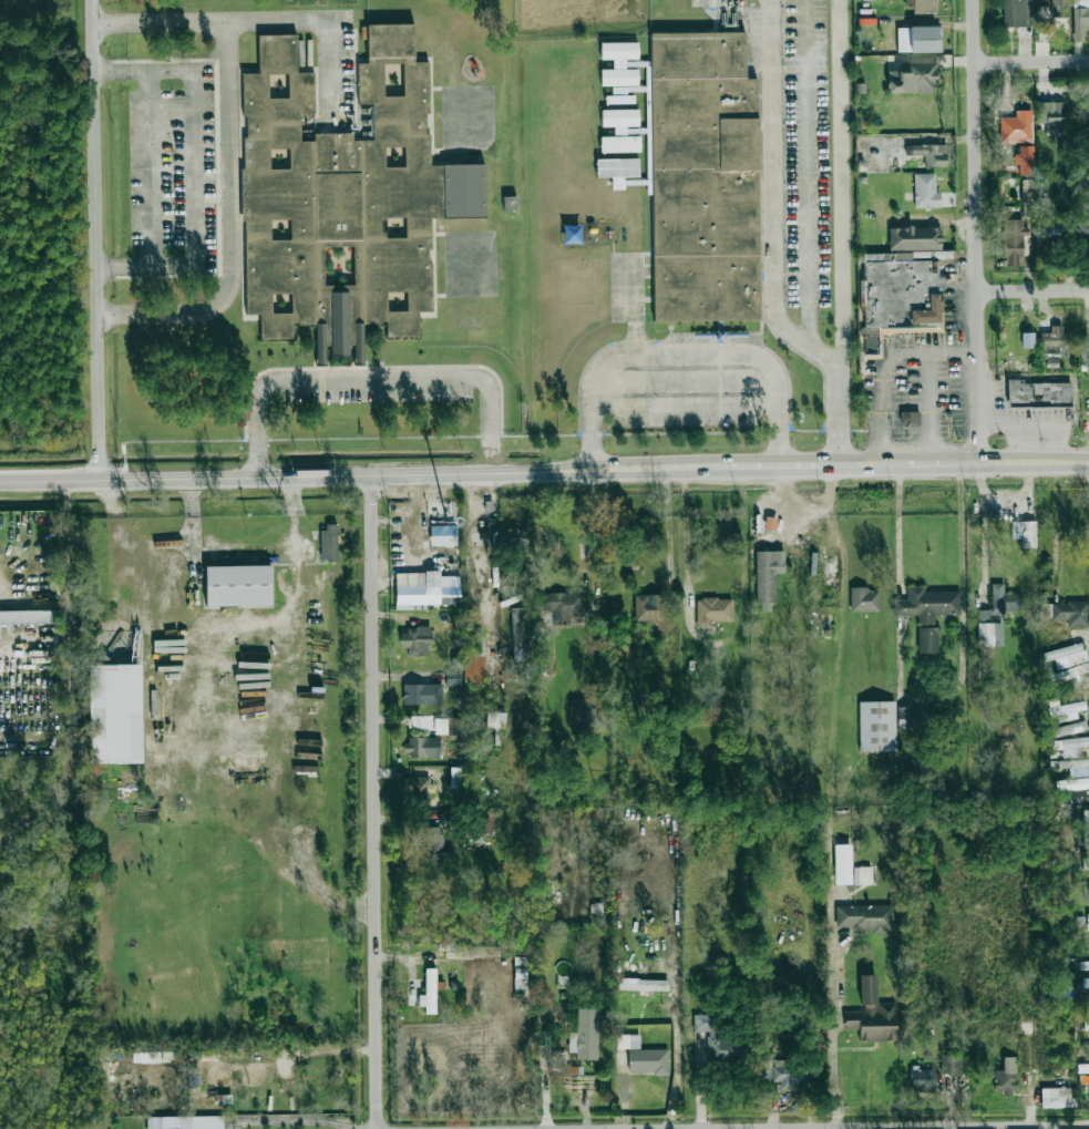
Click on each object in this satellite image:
building: (1041, 2)
building: (922, 6)
building: (1056, 8)
building: (1018, 12)
building: (1080, 18)
road: (321, 22)
road: (163, 23)
building: (918, 39)
road: (1034, 60)
building: (618, 63)
building: (914, 78)
building: (619, 99)
building: (1056, 115)
building: (619, 120)
building: (1016, 127)
building: (619, 144)
building: (929, 154)
building: (617, 167)
road: (153, 170)
road: (206, 171)
road: (809, 173)
building: (703, 178)
building: (925, 191)
building: (348, 193)
building: (510, 203)
building: (1027, 211)
road: (233, 227)
road: (978, 232)
building: (1083, 236)
road: (96, 239)
building: (1013, 242)
building: (901, 284)
road: (1033, 289)
road: (633, 308)
building: (1027, 339)
building: (1050, 340)
building: (358, 343)
building: (320, 345)
road: (684, 353)
road: (828, 359)
road: (886, 362)
road: (371, 377)
road: (686, 382)
building: (1038, 393)
road: (686, 406)
road: (928, 406)
road: (836, 415)
building: (910, 418)
road: (840, 463)
road: (296, 475)
road: (476, 493)
road: (897, 522)
road: (589, 523)
road: (985, 531)
building: (1025, 533)
building: (508, 538)
road: (686, 540)
building: (329, 543)
road: (243, 547)
road: (479, 563)
building: (767, 577)
building: (237, 585)
building: (422, 588)
building: (449, 599)
building: (864, 599)
building: (1001, 603)
building: (562, 606)
building: (649, 607)
building: (713, 610)
building: (927, 613)
building: (1067, 613)
building: (29, 617)
building: (520, 633)
building: (989, 634)
building: (415, 640)
building: (623, 651)
building: (1065, 655)
building: (474, 657)
road: (68, 674)
building: (452, 677)
building: (422, 694)
building: (582, 708)
building: (1067, 710)
building: (114, 714)
building: (912, 717)
building: (495, 719)
building: (876, 726)
building: (455, 728)
building: (1067, 729)
building: (1069, 746)
building: (422, 747)
building: (1076, 767)
building: (454, 777)
building: (1069, 783)
building: (418, 789)
road: (376, 801)
building: (485, 822)
building: (1086, 828)
building: (434, 843)
building: (1085, 862)
building: (842, 872)
building: (862, 875)
building: (863, 917)
building: (1088, 921)
building: (1083, 965)
building: (520, 972)
building: (1079, 983)
building: (639, 984)
building: (429, 992)
building: (1087, 1005)
road: (833, 1007)
building: (872, 1015)
building: (1086, 1024)
building: (585, 1035)
building: (719, 1043)
building: (1087, 1050)
building: (643, 1056)
building: (953, 1064)
building: (573, 1069)
building: (787, 1074)
building: (1006, 1076)
building: (922, 1078)
building: (1057, 1097)
road: (294, 1120)
building: (185, 1122)
road: (928, 1125)
road: (824, 1128)

